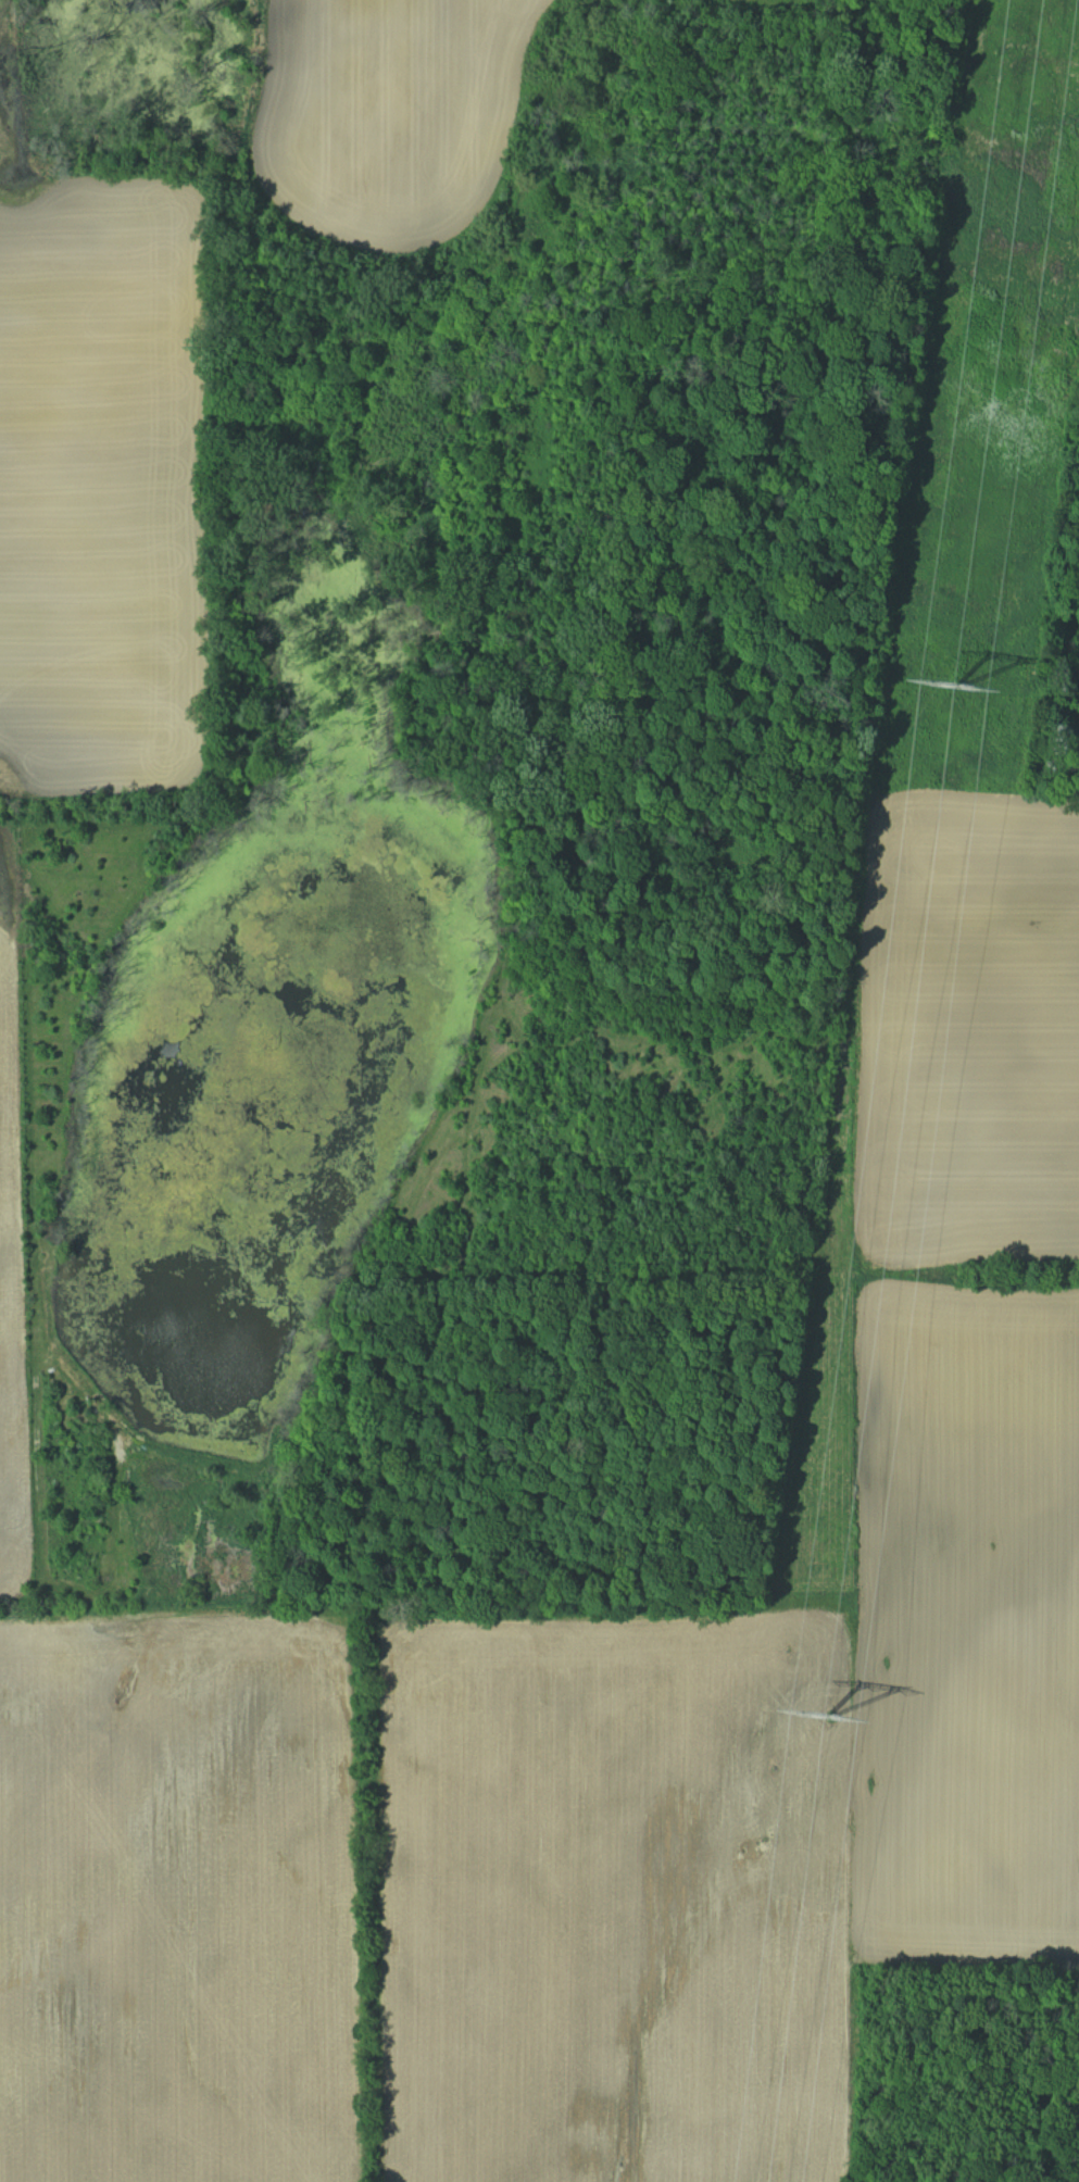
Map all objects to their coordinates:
power tower: (959, 686)
power tower: (830, 1714)

